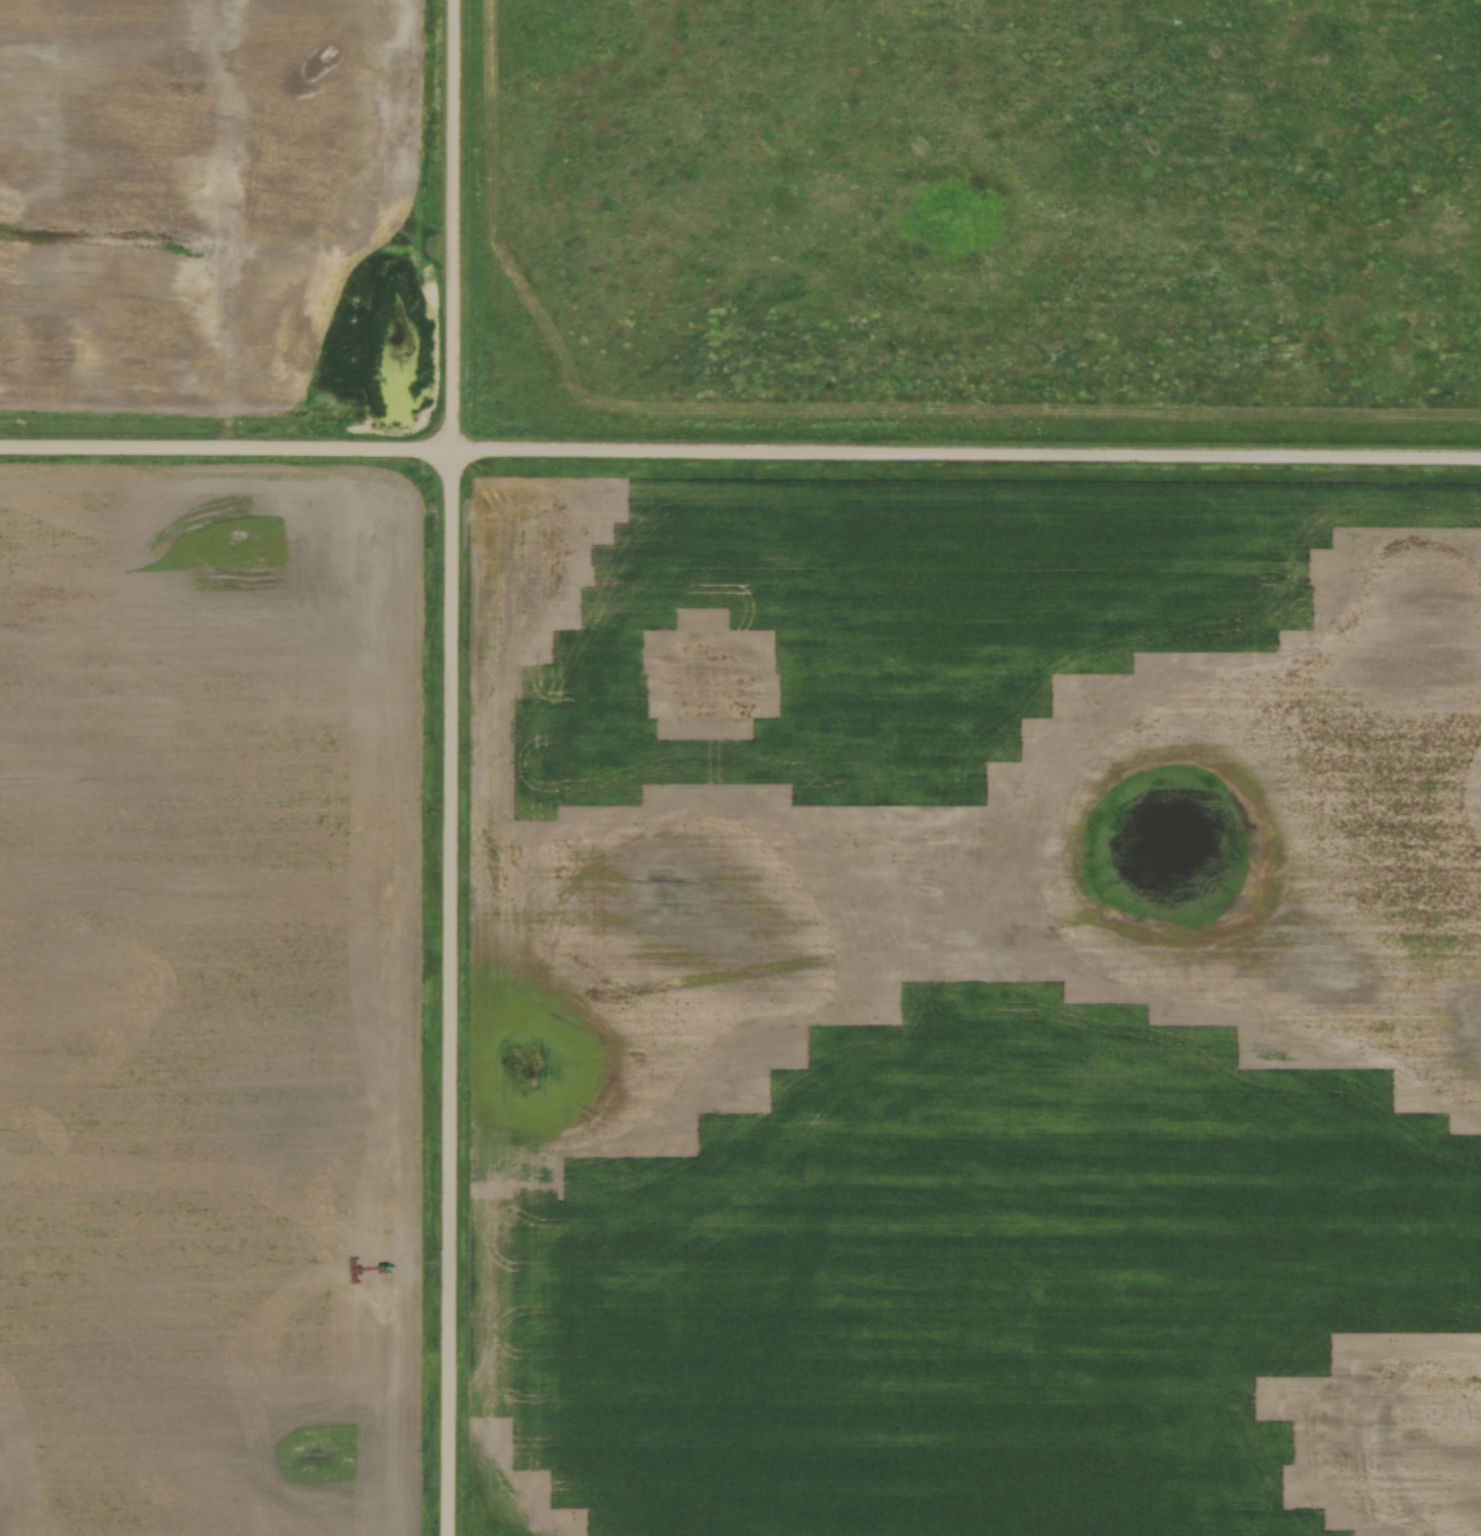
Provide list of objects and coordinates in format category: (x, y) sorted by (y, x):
road: (740, 455)
road: (449, 768)

